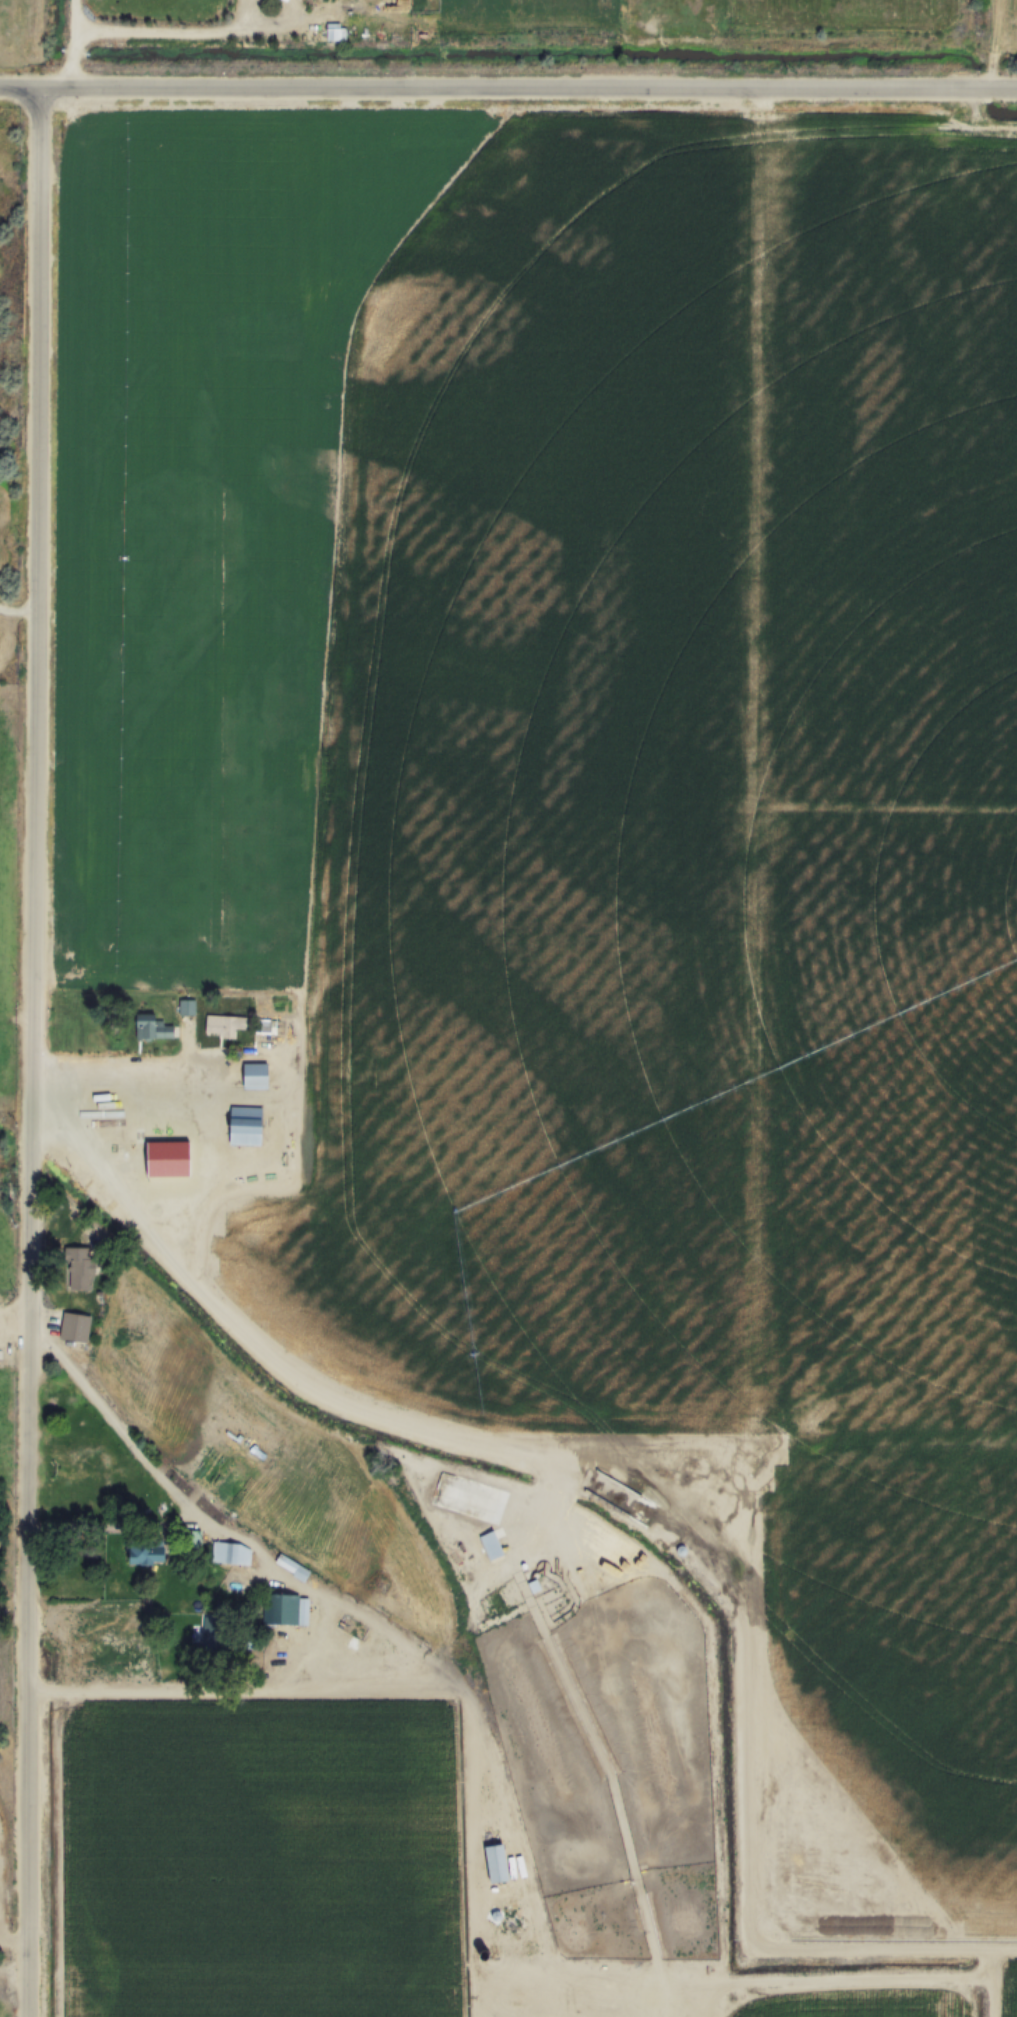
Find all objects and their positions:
building: (335, 31)
road: (169, 36)
road: (73, 44)
road: (508, 90)
road: (18, 614)
building: (187, 1007)
building: (224, 1026)
building: (152, 1028)
road: (34, 1053)
road: (133, 1070)
building: (250, 1108)
building: (158, 1147)
building: (80, 1267)
road: (14, 1309)
building: (75, 1327)
road: (120, 1432)
road: (515, 1445)
building: (491, 1543)
building: (149, 1551)
building: (229, 1552)
building: (292, 1566)
building: (284, 1609)
road: (365, 1619)
building: (209, 1626)
building: (353, 1627)
road: (163, 1697)
building: (498, 1863)
road: (848, 1981)

